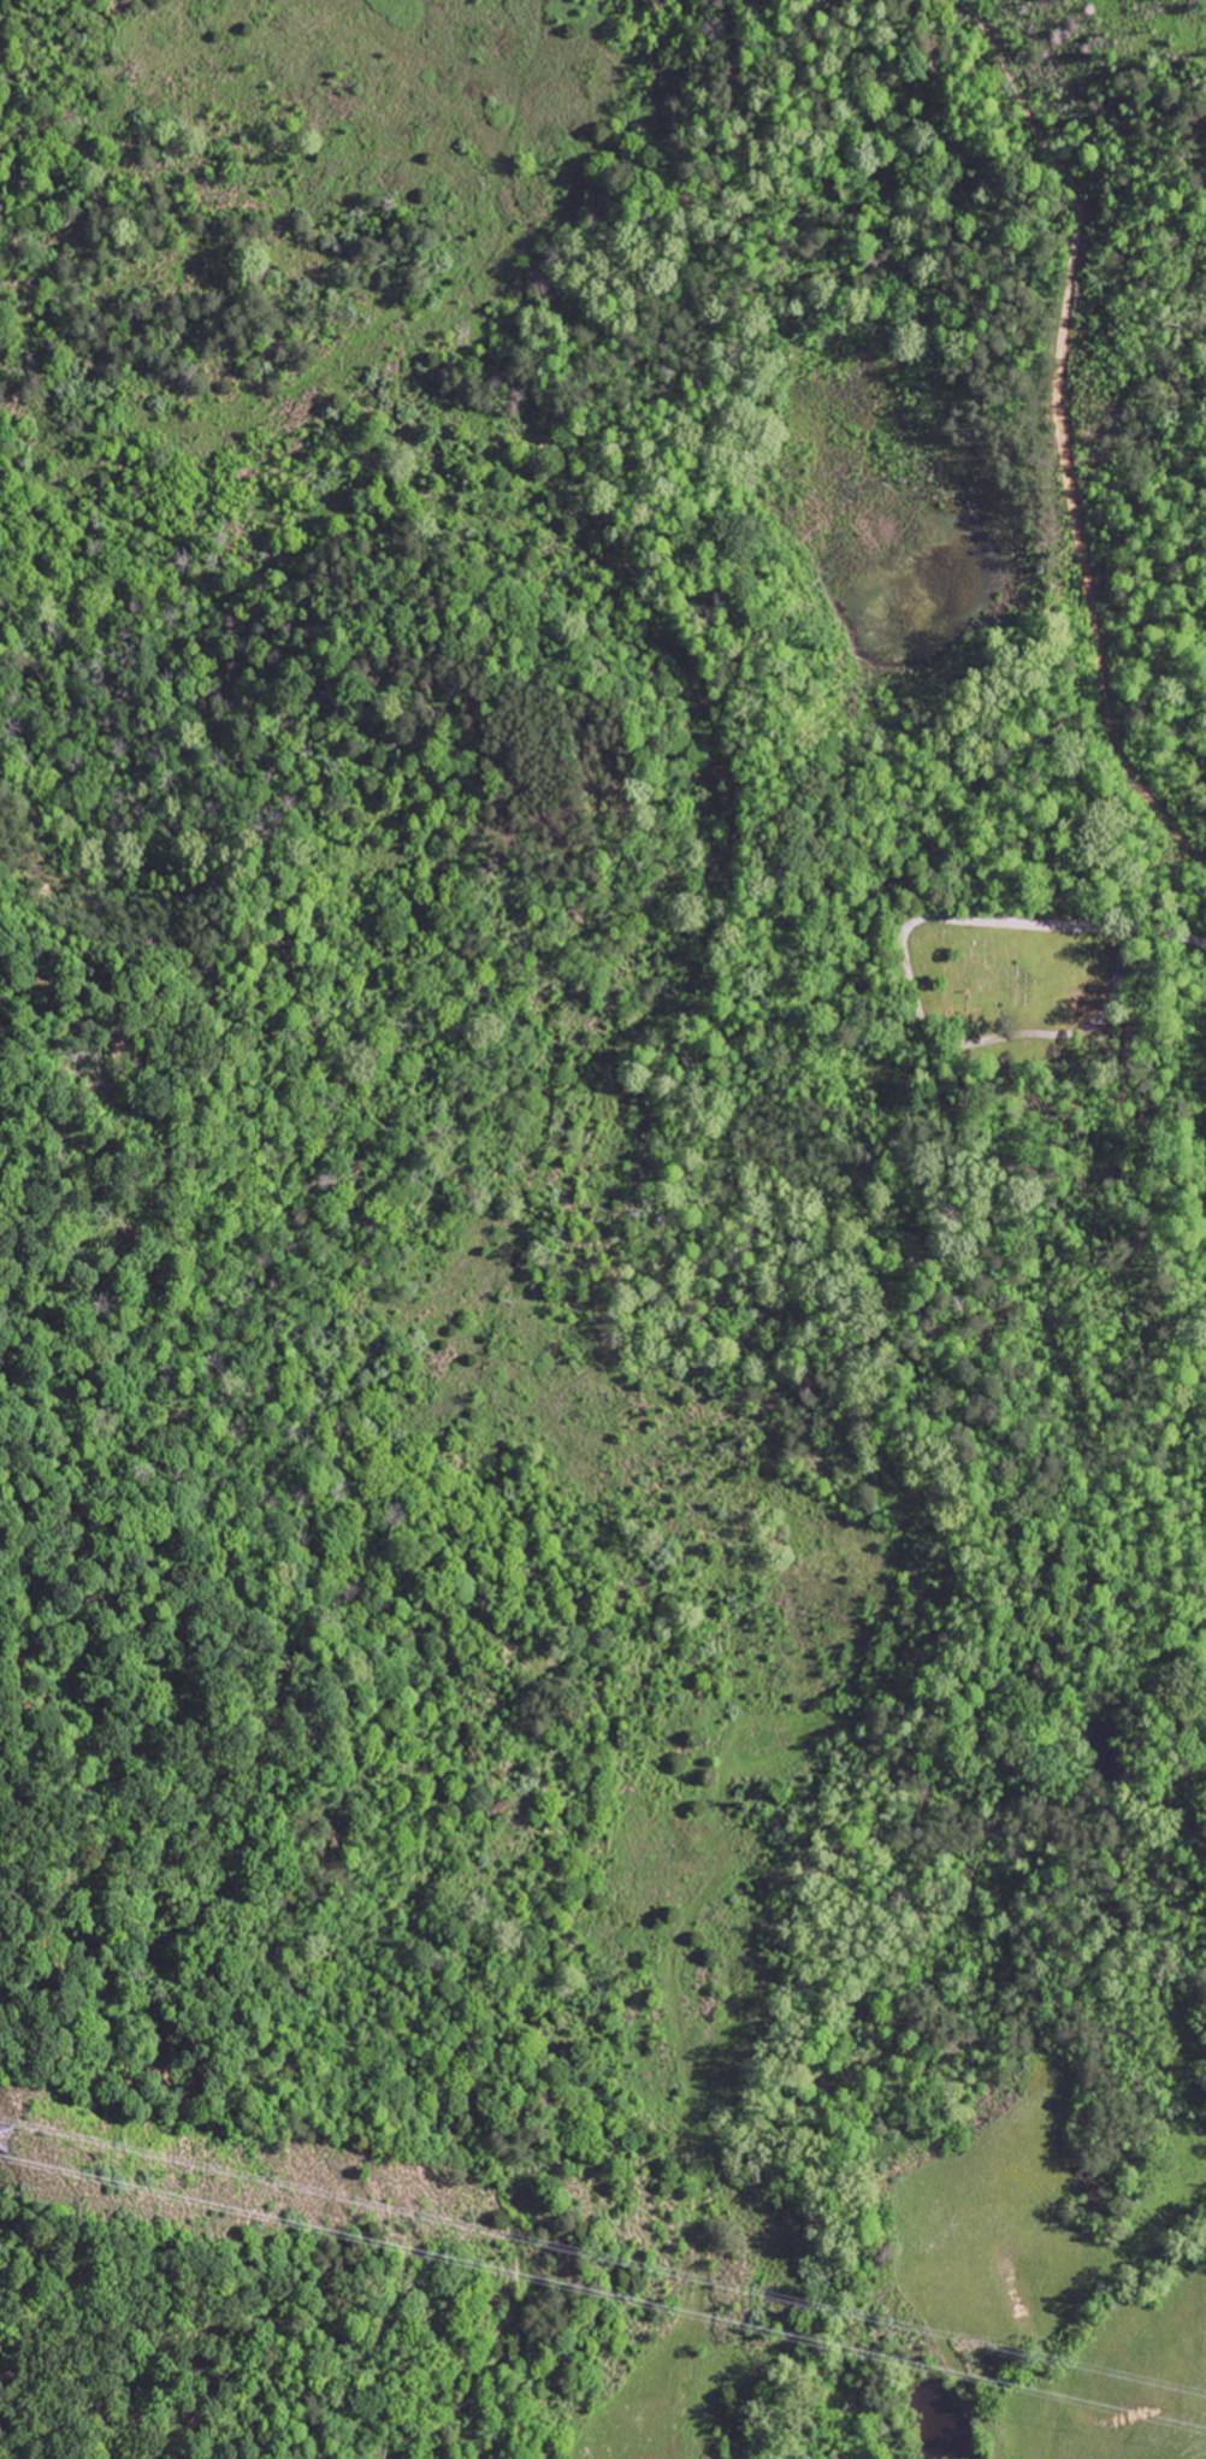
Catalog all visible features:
road: (1112, 985)

